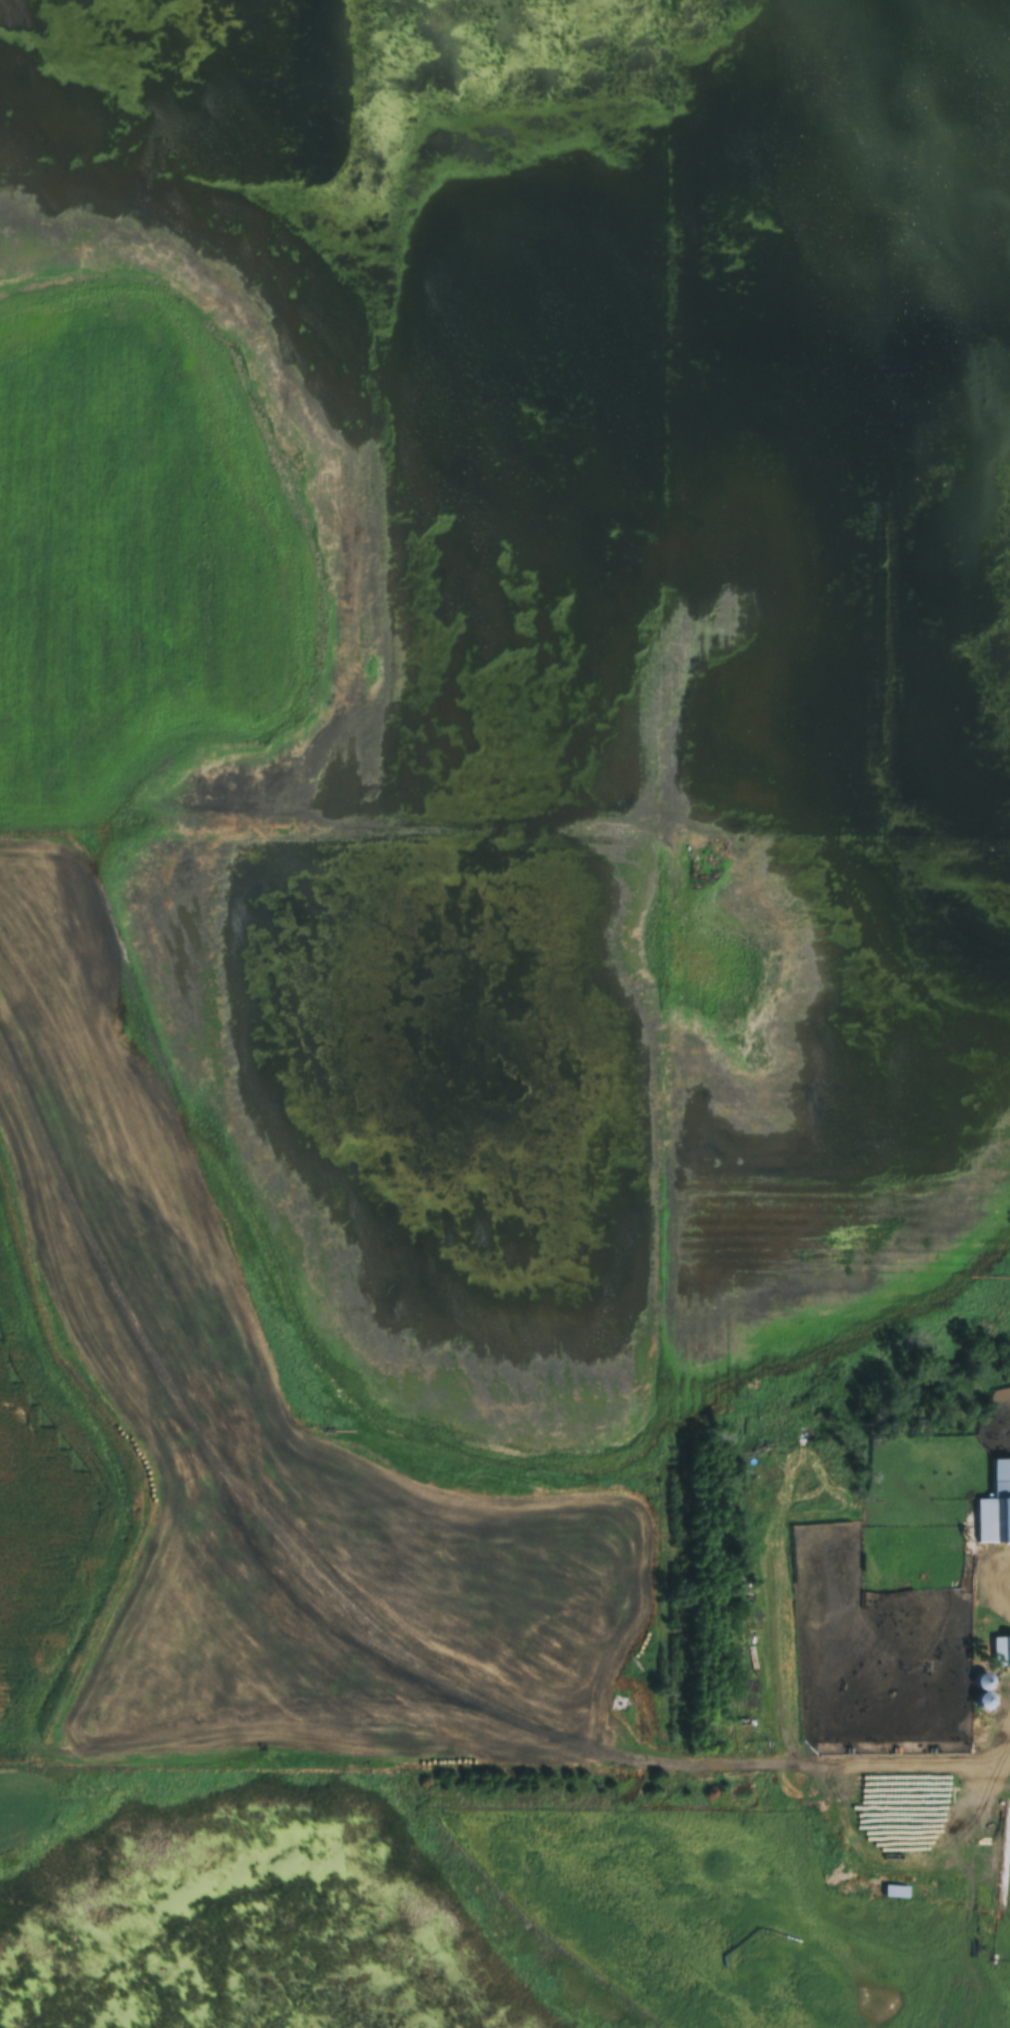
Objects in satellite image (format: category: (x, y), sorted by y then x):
building: (996, 1507)
building: (1001, 1651)
building: (983, 1701)
road: (1001, 1778)

